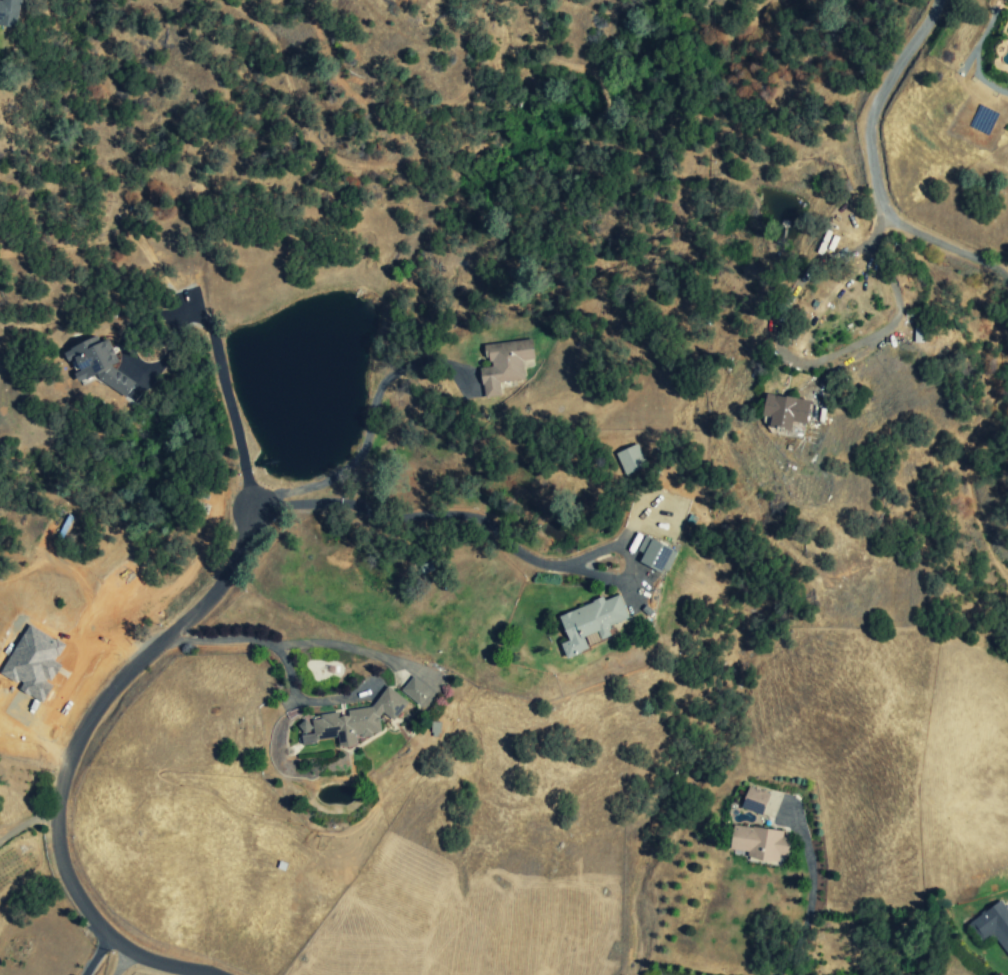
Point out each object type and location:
building: (9, 12)
road: (871, 169)
road: (195, 315)
road: (819, 359)
building: (97, 364)
building: (504, 364)
building: (785, 411)
road: (367, 429)
building: (631, 459)
road: (486, 527)
building: (656, 554)
building: (590, 623)
road: (282, 642)
building: (415, 690)
building: (352, 721)
road: (67, 754)
building: (754, 800)
road: (24, 822)
building: (760, 843)
road: (809, 901)
building: (992, 925)
road: (95, 956)
road: (121, 963)

